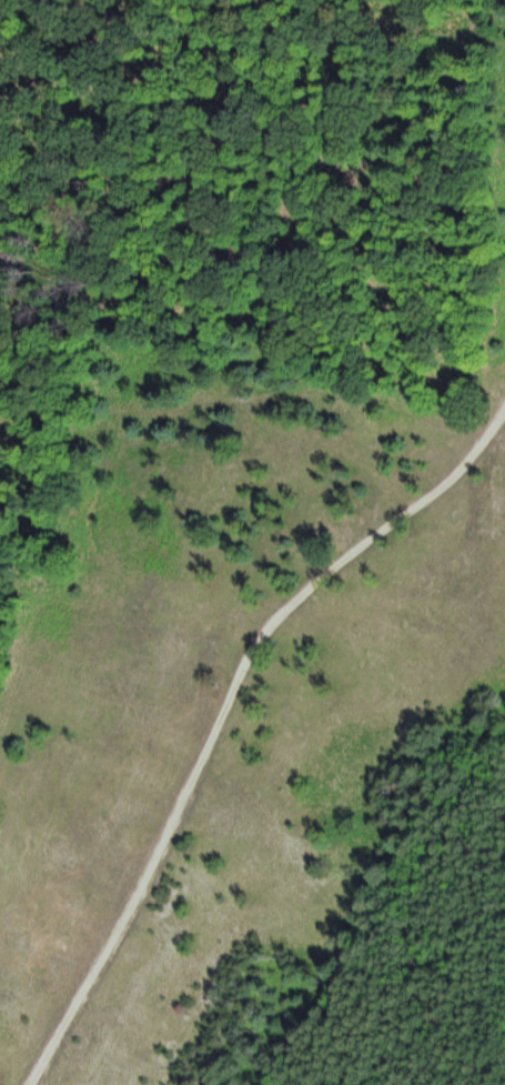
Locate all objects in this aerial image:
road: (221, 705)

